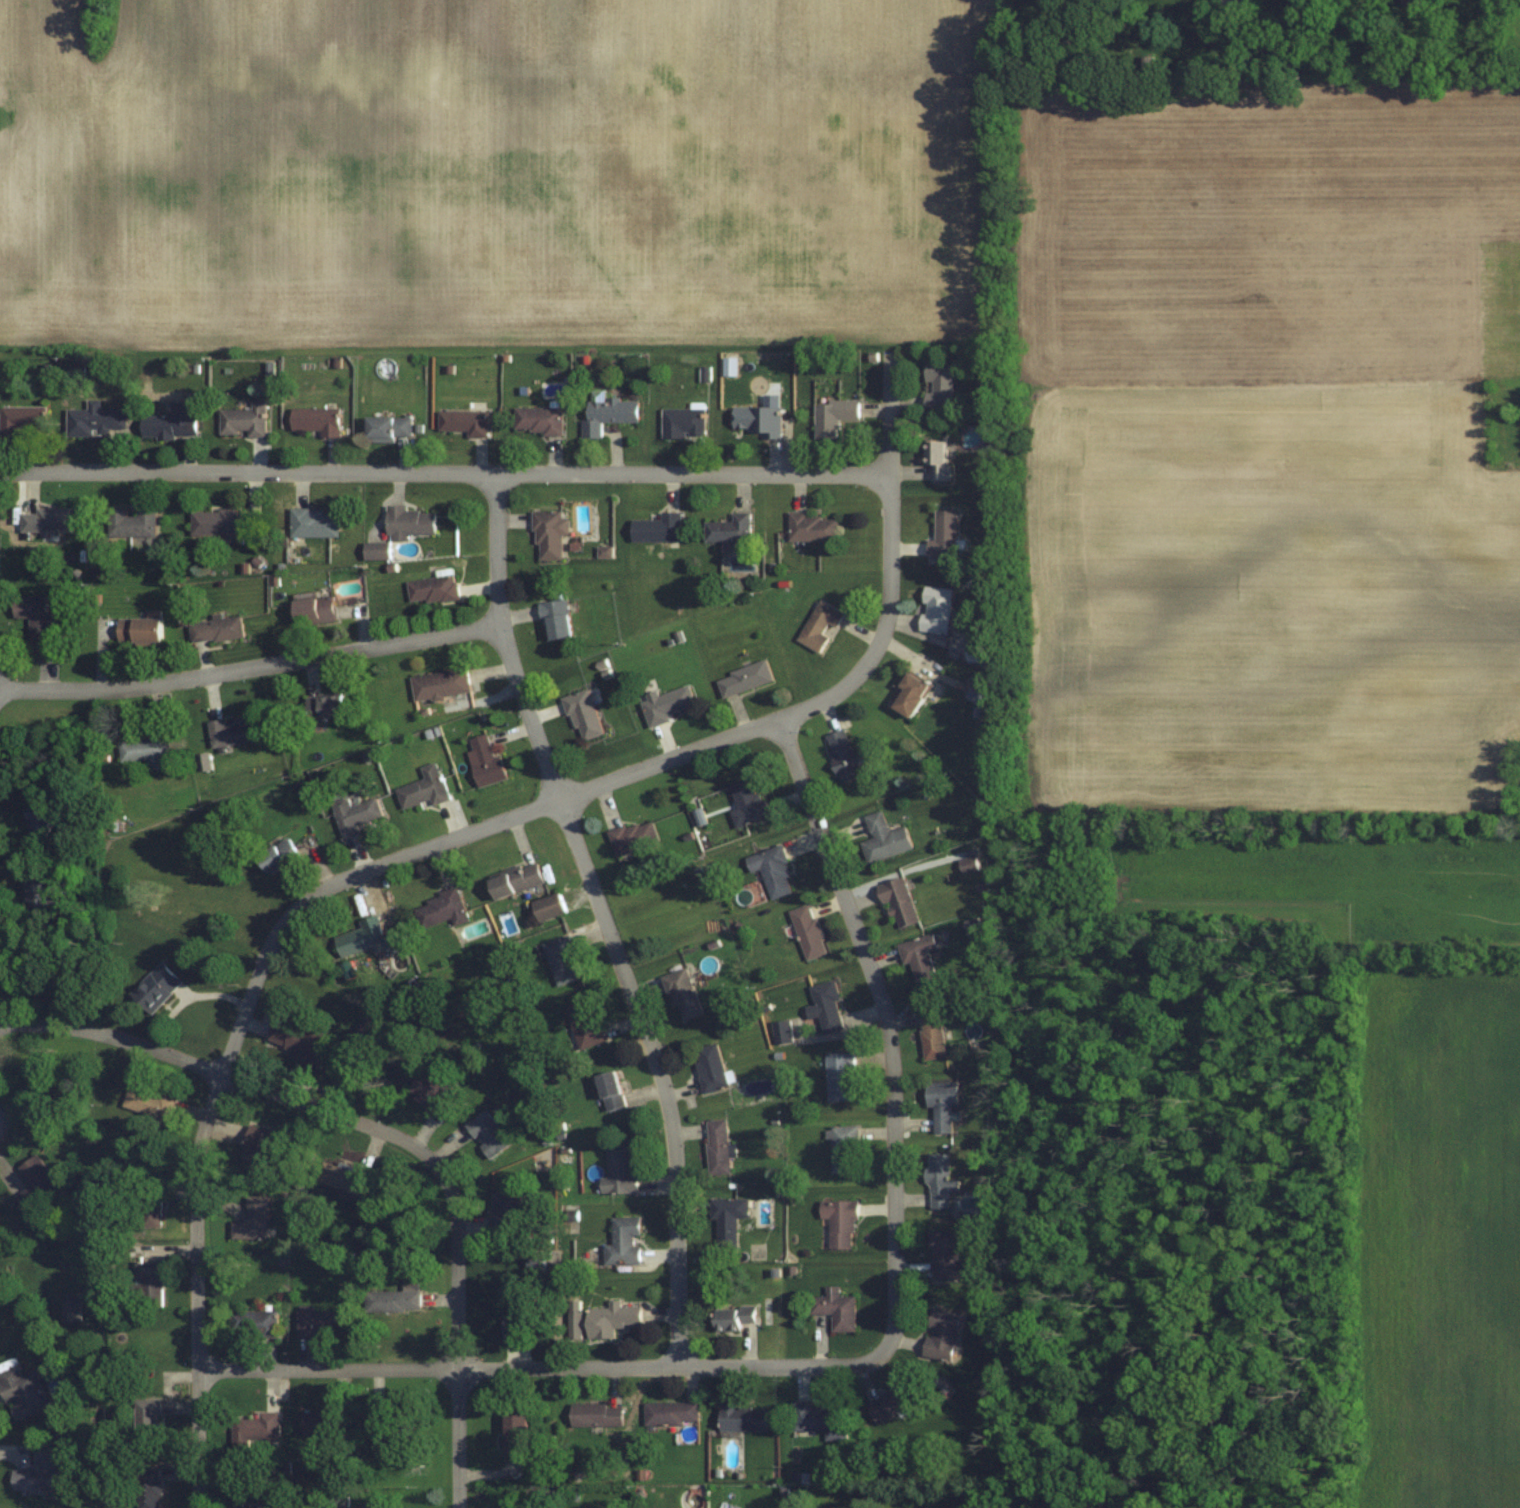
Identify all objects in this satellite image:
building: (938, 387)
building: (606, 413)
building: (832, 416)
building: (27, 420)
building: (99, 420)
building: (250, 420)
building: (538, 420)
building: (755, 420)
building: (323, 421)
building: (682, 422)
building: (465, 423)
building: (175, 426)
building: (395, 429)
building: (936, 459)
road: (446, 471)
building: (52, 521)
building: (416, 523)
building: (136, 524)
building: (218, 524)
building: (319, 524)
building: (812, 528)
building: (656, 529)
building: (728, 529)
building: (548, 534)
building: (943, 537)
building: (382, 551)
building: (439, 589)
building: (935, 610)
building: (322, 611)
building: (555, 618)
building: (42, 624)
building: (819, 626)
building: (222, 629)
building: (147, 631)
road: (254, 667)
building: (743, 678)
building: (440, 684)
building: (909, 696)
building: (664, 703)
building: (333, 708)
building: (581, 715)
building: (237, 731)
building: (152, 748)
building: (843, 755)
building: (485, 760)
building: (424, 788)
building: (745, 802)
building: (354, 814)
building: (44, 822)
building: (632, 836)
building: (883, 838)
road: (441, 843)
building: (278, 855)
building: (967, 864)
building: (771, 869)
building: (515, 879)
building: (48, 890)
building: (897, 900)
building: (548, 906)
building: (441, 908)
road: (605, 915)
building: (972, 927)
building: (807, 930)
building: (361, 936)
building: (919, 958)
building: (561, 959)
building: (157, 987)
building: (682, 994)
building: (825, 1006)
building: (583, 1025)
building: (781, 1031)
building: (931, 1032)
road: (893, 1038)
building: (299, 1039)
building: (709, 1067)
building: (839, 1076)
building: (431, 1089)
building: (610, 1090)
building: (941, 1102)
building: (151, 1108)
road: (1, 1122)
road: (388, 1134)
building: (487, 1134)
building: (260, 1141)
building: (717, 1147)
building: (842, 1149)
building: (618, 1172)
building: (344, 1178)
building: (939, 1180)
building: (36, 1184)
building: (150, 1204)
building: (505, 1210)
building: (727, 1217)
building: (253, 1220)
building: (839, 1221)
crop: (1441, 1237)
building: (623, 1241)
building: (946, 1255)
building: (148, 1283)
building: (393, 1299)
building: (834, 1308)
building: (71, 1310)
building: (515, 1310)
building: (731, 1317)
building: (610, 1319)
building: (250, 1321)
building: (319, 1321)
building: (574, 1324)
building: (941, 1334)
road: (530, 1368)
building: (23, 1392)
building: (888, 1404)
building: (670, 1413)
building: (595, 1415)
building: (742, 1418)
building: (324, 1420)
building: (817, 1420)
building: (146, 1421)
building: (391, 1426)
building: (253, 1431)
building: (513, 1433)
building: (41, 1474)
building: (146, 1496)
building: (243, 1507)

